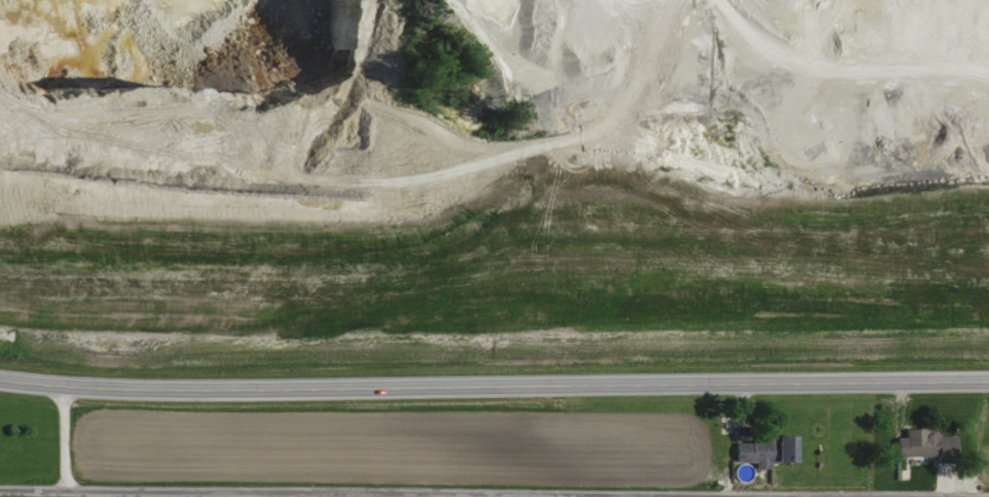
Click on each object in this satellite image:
road: (494, 388)
road: (60, 437)
building: (909, 442)
building: (943, 443)
building: (779, 448)
building: (749, 451)
road: (350, 492)
road: (236, 494)

